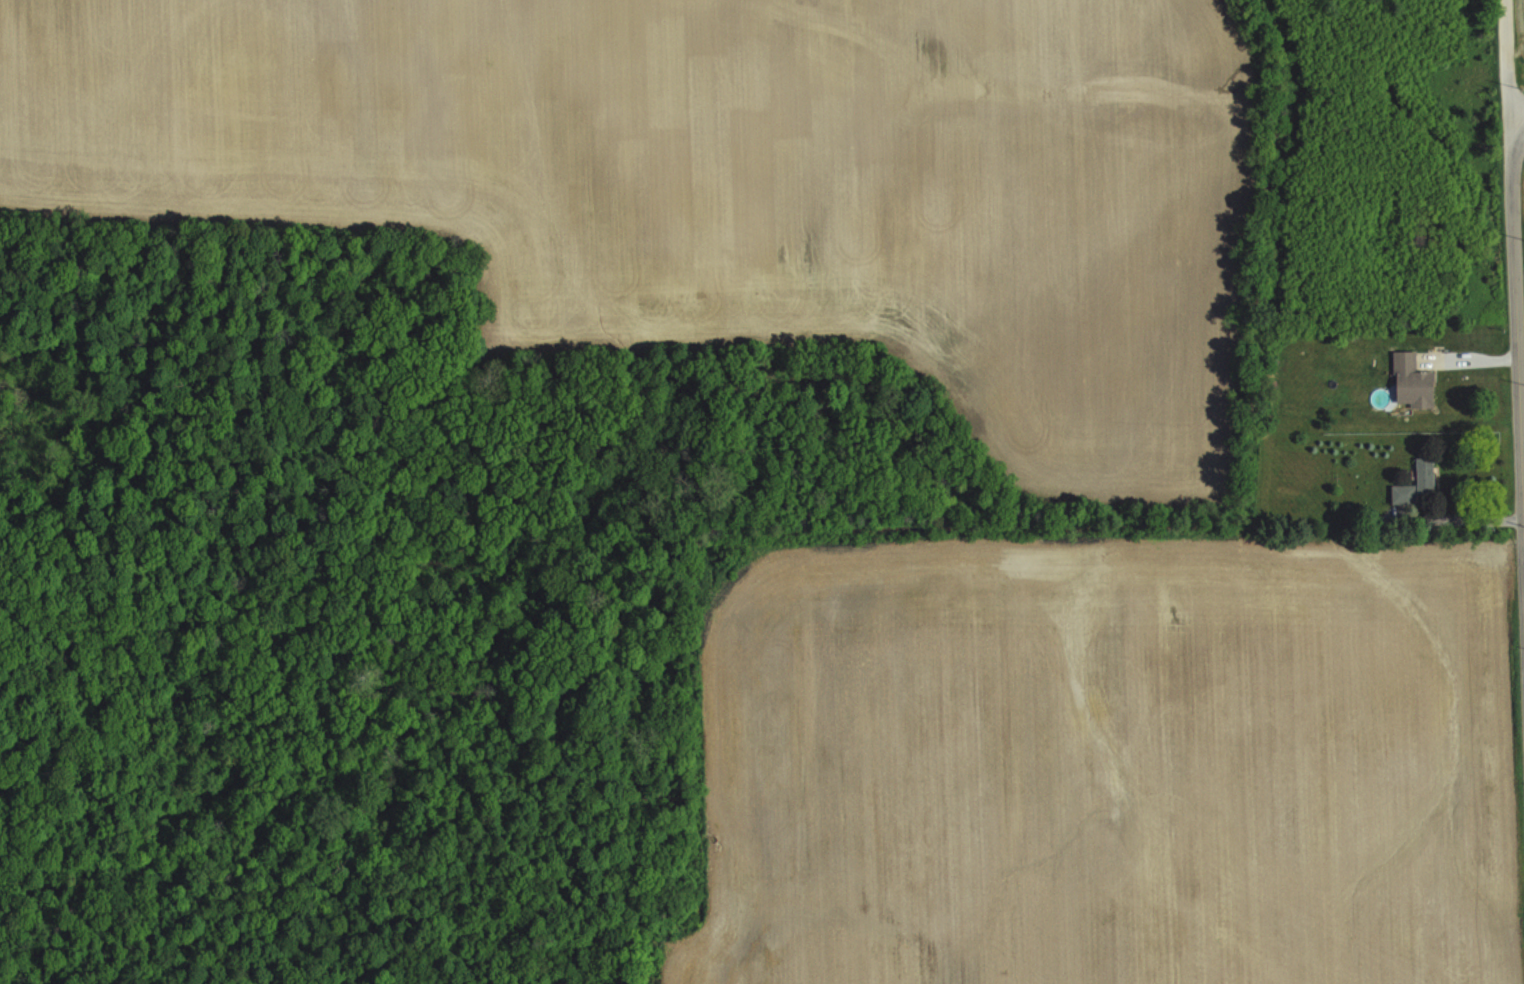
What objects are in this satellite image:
road: (1518, 111)
road: (1514, 248)
building: (1412, 382)
building: (1417, 485)

